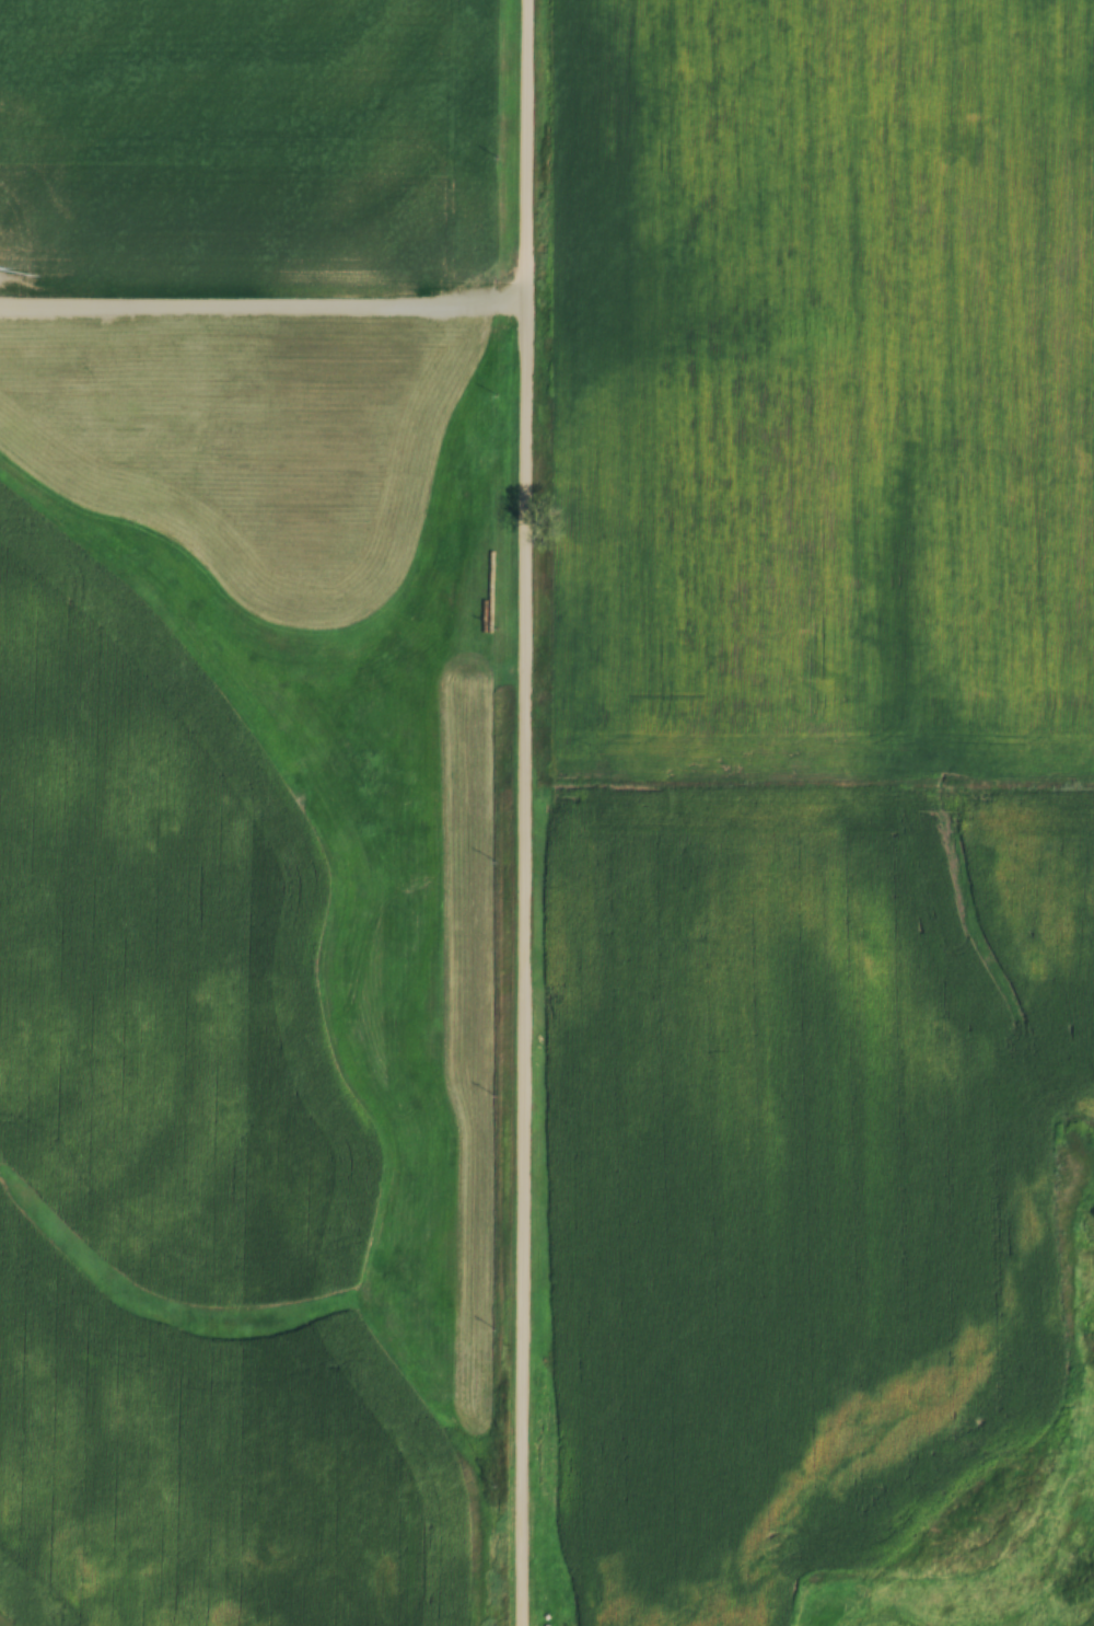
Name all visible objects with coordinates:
road: (526, 812)

